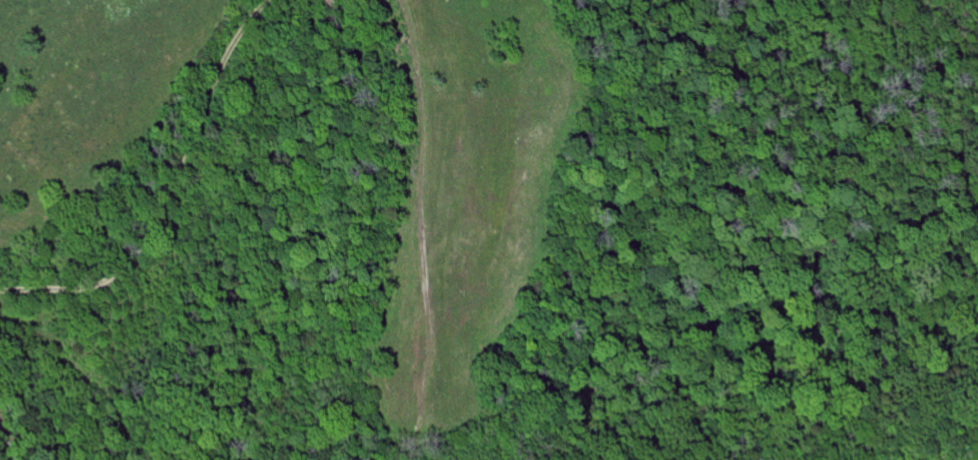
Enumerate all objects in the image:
road: (145, 187)
road: (412, 229)
road: (5, 447)

